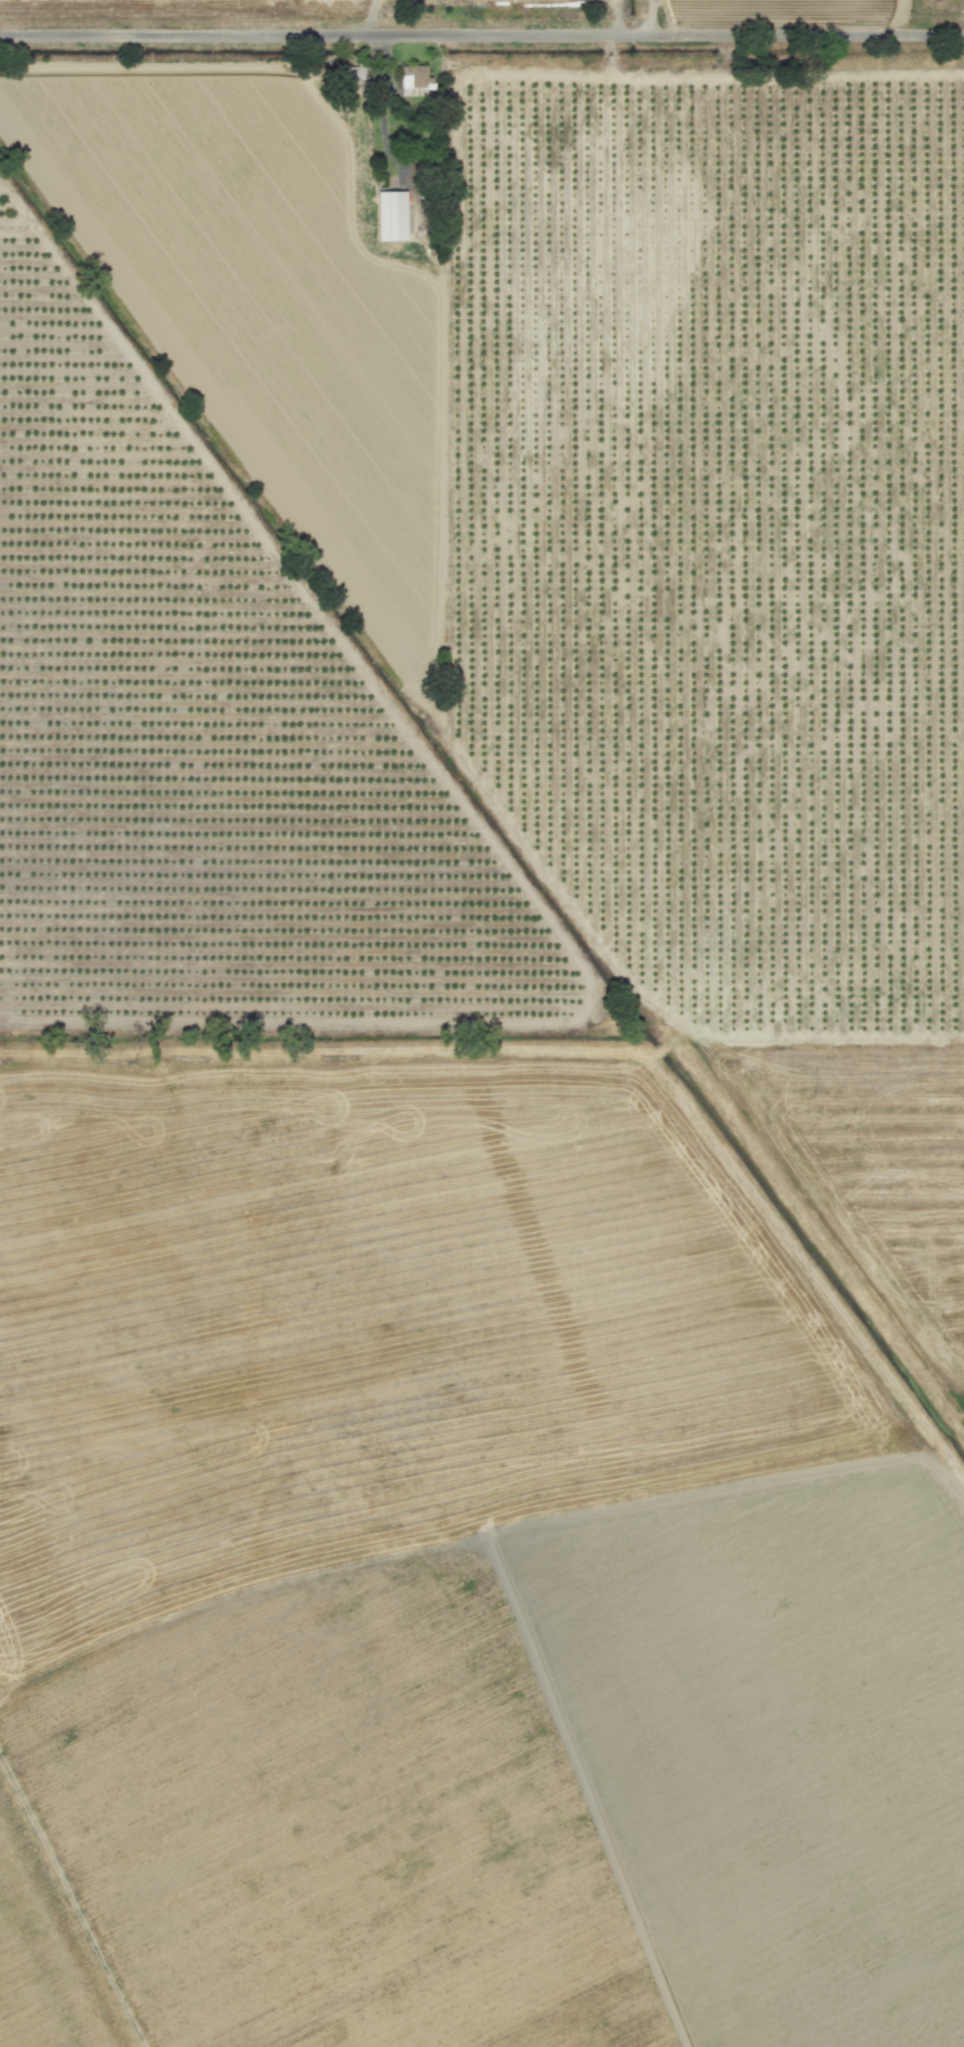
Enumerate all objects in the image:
road: (482, 36)
building: (352, 72)
building: (414, 79)
building: (390, 215)

